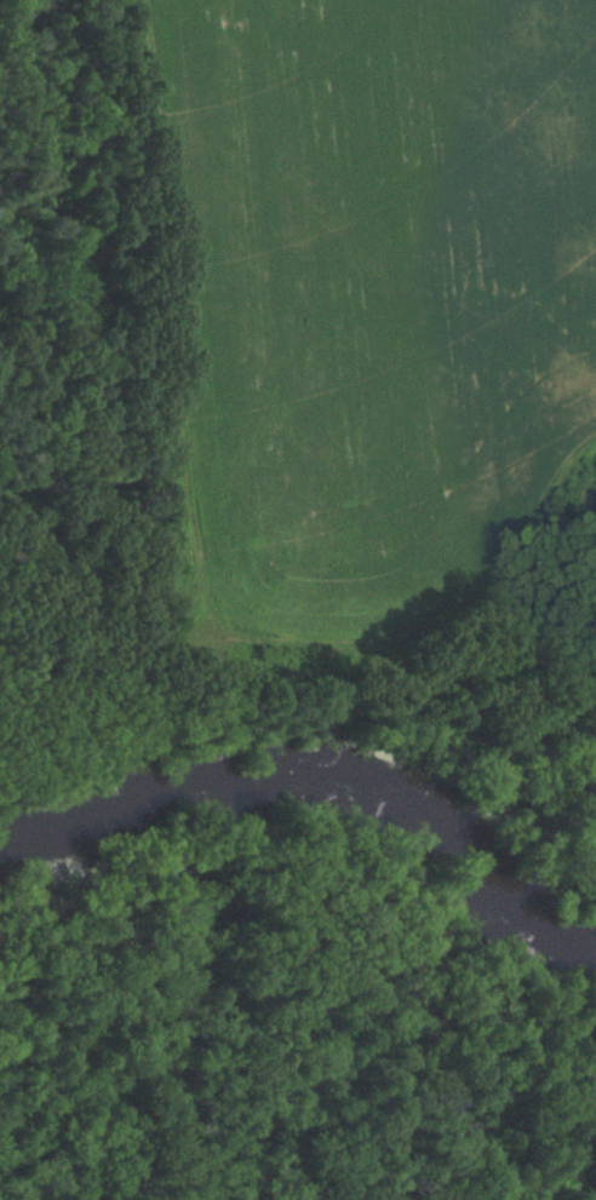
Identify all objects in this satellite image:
river: (327, 773)

